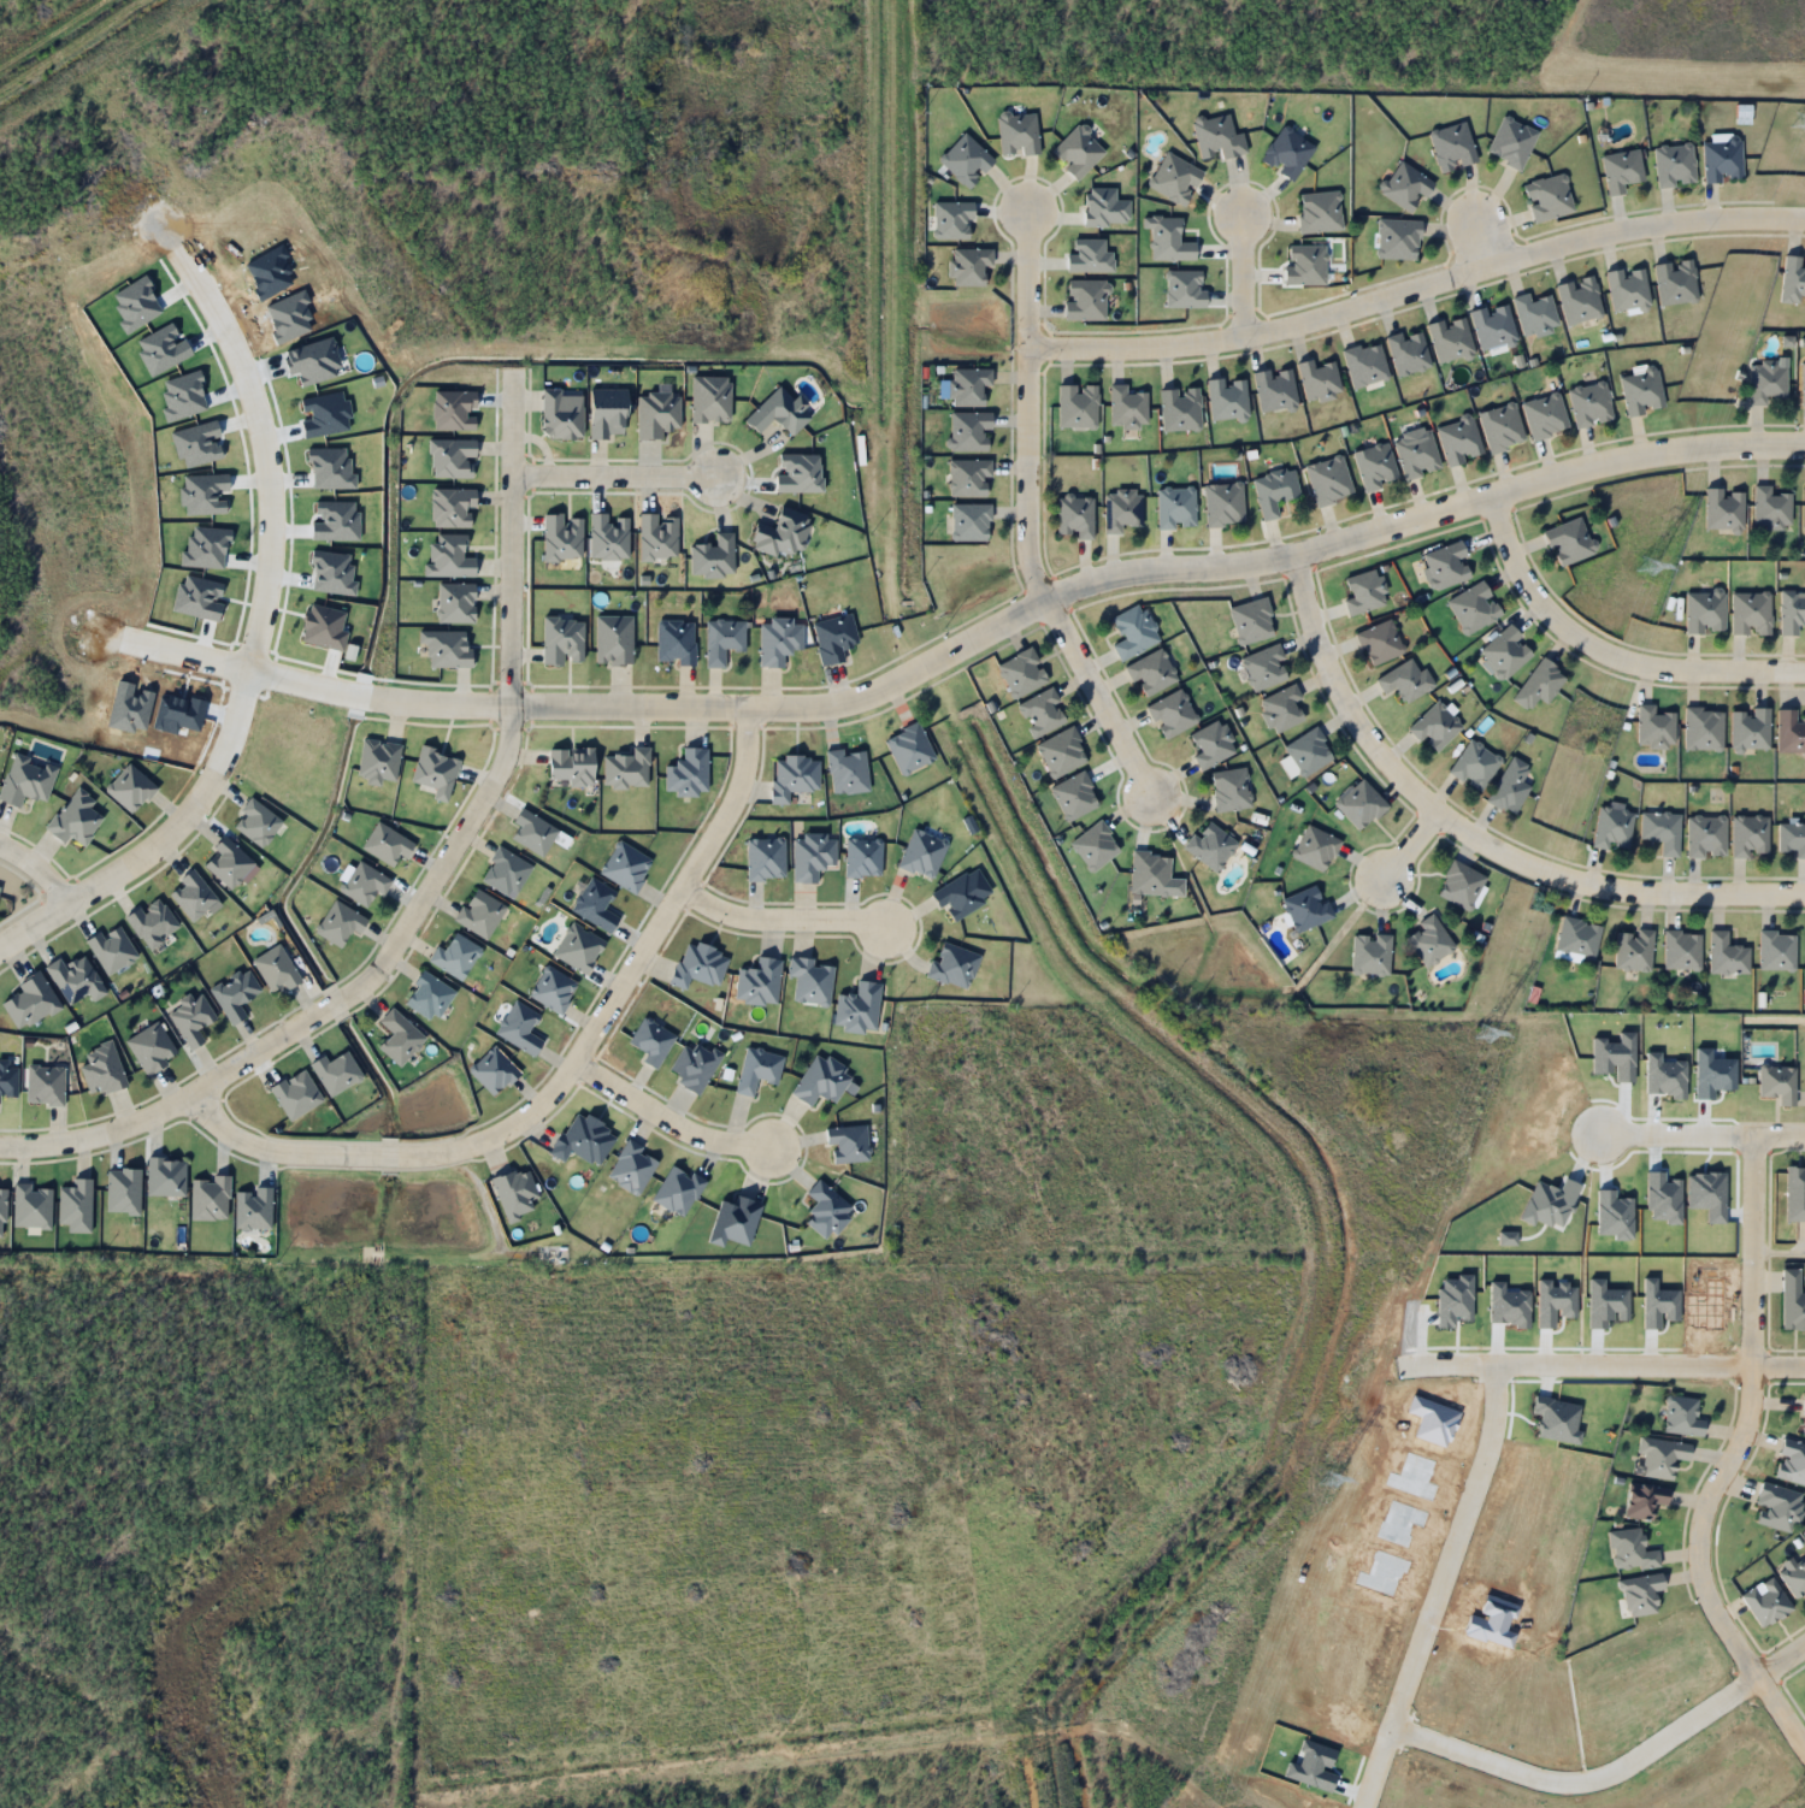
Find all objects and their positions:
building: (1017, 132)
building: (1217, 136)
building: (1511, 142)
building: (1451, 147)
building: (1076, 152)
building: (1287, 153)
building: (965, 160)
building: (1721, 161)
building: (1674, 165)
building: (1621, 170)
building: (1174, 178)
building: (1404, 187)
building: (1546, 197)
building: (1319, 212)
building: (1397, 238)
road: (1480, 238)
building: (1304, 264)
building: (968, 265)
road: (1250, 272)
building: (1675, 282)
road: (1412, 284)
building: (1627, 289)
building: (1085, 300)
building: (1579, 300)
building: (1534, 314)
building: (1492, 326)
building: (1450, 338)
building: (1408, 350)
building: (1364, 364)
building: (1317, 379)
building: (1766, 380)
building: (1803, 383)
building: (968, 386)
building: (1274, 389)
building: (1641, 391)
building: (1226, 398)
building: (709, 400)
building: (1589, 403)
building: (1076, 406)
road: (1021, 407)
building: (1126, 407)
building: (1179, 408)
building: (778, 412)
building: (656, 413)
building: (1544, 415)
building: (1500, 427)
building: (968, 431)
building: (1458, 441)
road: (259, 450)
building: (1416, 455)
building: (1375, 466)
road: (612, 472)
building: (968, 478)
building: (1328, 480)
building: (1273, 491)
building: (1223, 503)
building: (1175, 508)
building: (1770, 508)
building: (1121, 509)
building: (1723, 509)
building: (1074, 516)
building: (971, 522)
building: (783, 533)
building: (1568, 542)
building: (712, 556)
building: (1445, 566)
road: (1089, 586)
building: (1364, 591)
building: (455, 603)
building: (1473, 607)
building: (1791, 610)
building: (1704, 611)
building: (1750, 613)
building: (1251, 620)
building: (1133, 632)
building: (833, 637)
building: (778, 638)
building: (613, 639)
building: (721, 639)
building: (674, 640)
building: (1379, 642)
road: (1606, 651)
building: (1504, 652)
road: (185, 660)
building: (1264, 667)
building: (1021, 673)
building: (1151, 673)
road: (317, 680)
building: (1405, 680)
building: (1539, 684)
road: (1098, 703)
road: (237, 708)
building: (1281, 708)
building: (1040, 713)
building: (1172, 714)
building: (1435, 727)
building: (1703, 727)
building: (1654, 728)
building: (1748, 728)
building: (1789, 732)
building: (1213, 744)
building: (908, 748)
building: (1061, 752)
building: (1306, 752)
building: (378, 761)
building: (1474, 764)
building: (626, 768)
building: (847, 772)
building: (686, 773)
building: (792, 776)
building: (1509, 787)
building: (1229, 788)
building: (1074, 796)
building: (1358, 804)
building: (1612, 828)
building: (1661, 829)
building: (532, 832)
building: (1705, 835)
building: (1748, 835)
building: (1791, 839)
road: (1470, 840)
building: (385, 844)
building: (1095, 846)
building: (1209, 846)
building: (1314, 847)
road: (1408, 851)
building: (921, 853)
building: (812, 856)
building: (862, 856)
building: (765, 859)
road: (126, 863)
building: (625, 865)
road: (34, 868)
building: (505, 871)
building: (1149, 873)
road: (430, 881)
building: (364, 882)
building: (1461, 885)
building: (957, 896)
building: (594, 904)
building: (1305, 908)
building: (479, 912)
road: (781, 918)
building: (338, 922)
building: (1577, 938)
building: (1428, 941)
building: (577, 949)
building: (1633, 950)
building: (1681, 950)
building: (1777, 950)
building: (1370, 953)
building: (1727, 955)
building: (454, 956)
building: (698, 964)
building: (952, 964)
building: (275, 969)
building: (809, 980)
building: (757, 981)
building: (553, 989)
building: (427, 995)
building: (857, 1006)
road: (1772, 1012)
building: (518, 1028)
building: (399, 1036)
building: (651, 1041)
road: (555, 1064)
building: (694, 1065)
building: (756, 1069)
building: (492, 1071)
building: (1780, 1074)
building: (820, 1081)
road: (660, 1110)
road: (1781, 1130)
building: (583, 1140)
building: (848, 1142)
building: (631, 1168)
building: (677, 1189)
building: (1794, 1193)
building: (825, 1210)
building: (733, 1221)
road: (1781, 1243)
building: (1792, 1300)
road: (1781, 1375)
building: (1804, 1416)
building: (1681, 1417)
road: (1735, 1454)
building: (1662, 1457)
building: (1791, 1463)
building: (1644, 1500)
building: (1779, 1507)
building: (1629, 1549)
building: (1794, 1578)
building: (1640, 1593)
building: (1765, 1602)
road: (1781, 1661)

